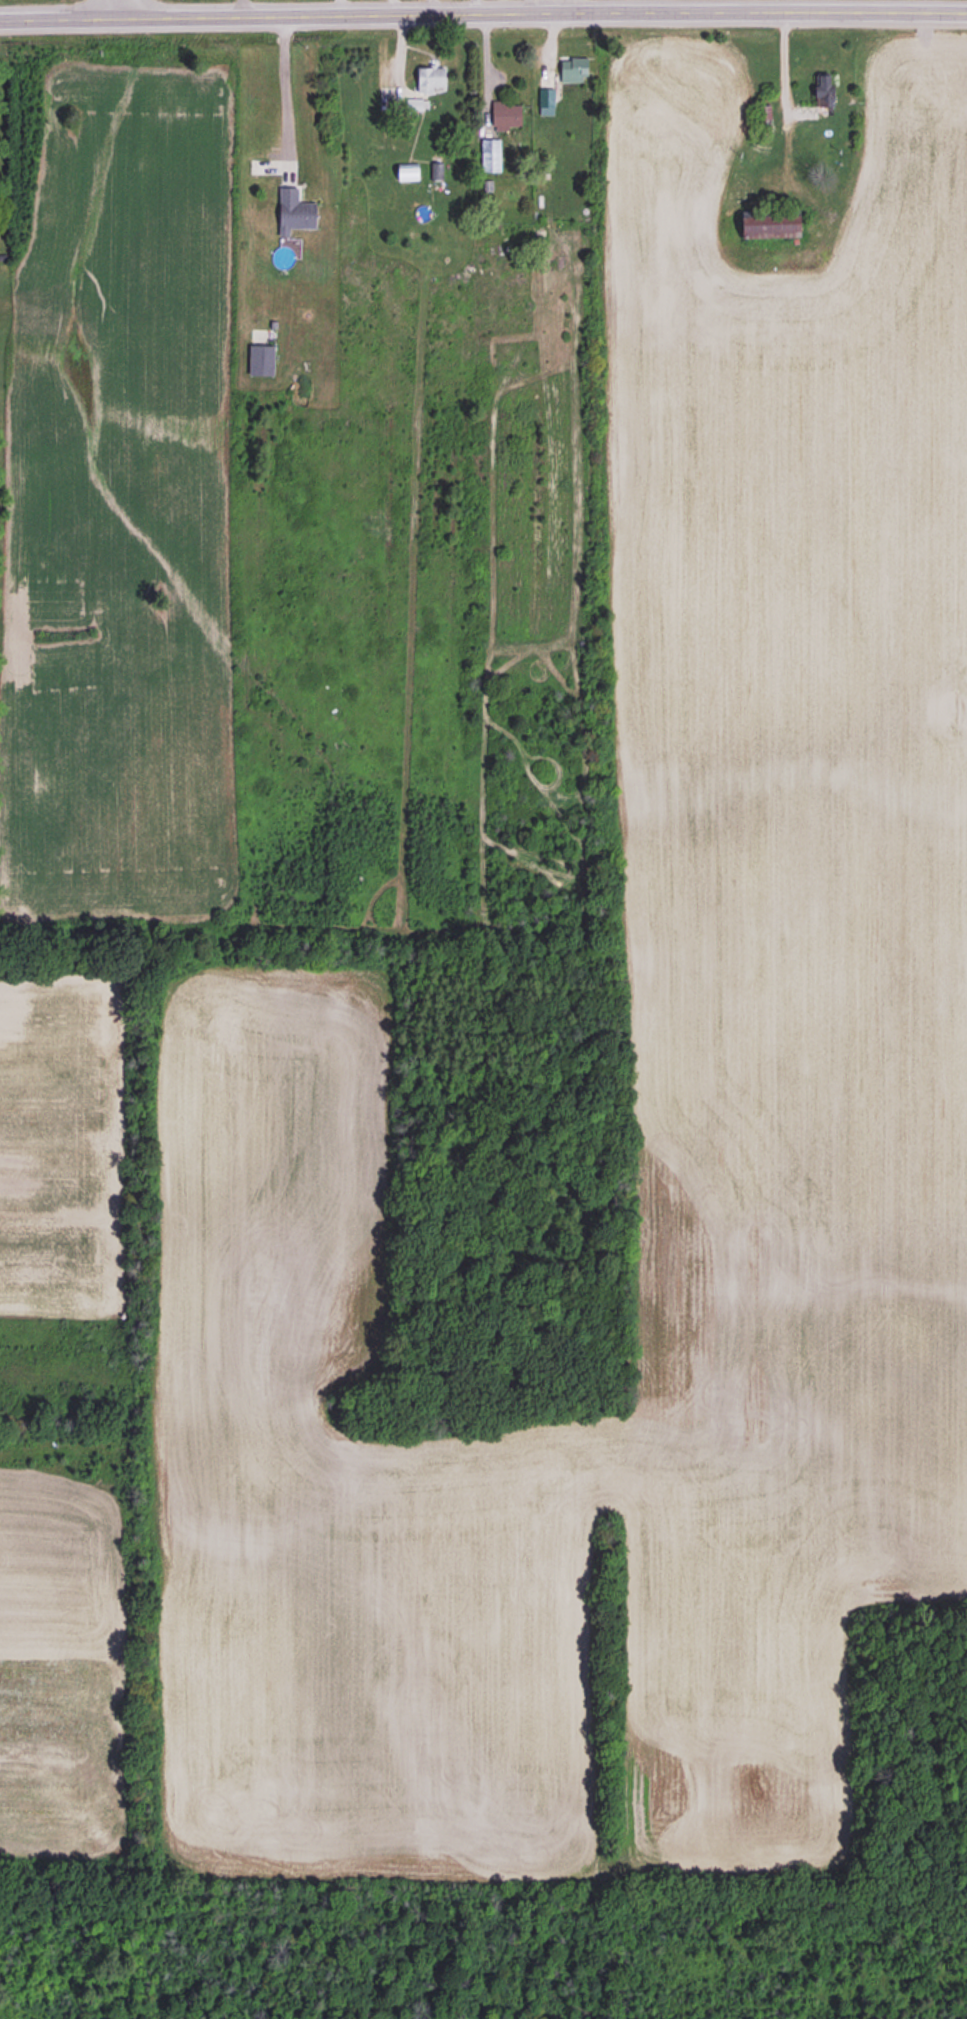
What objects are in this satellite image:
road: (113, 8)
road: (121, 8)
road: (483, 10)
building: (574, 69)
building: (430, 76)
road: (284, 85)
building: (825, 90)
building: (547, 101)
building: (414, 103)
building: (506, 115)
building: (490, 154)
building: (408, 171)
building: (295, 211)
building: (771, 226)
building: (261, 359)

